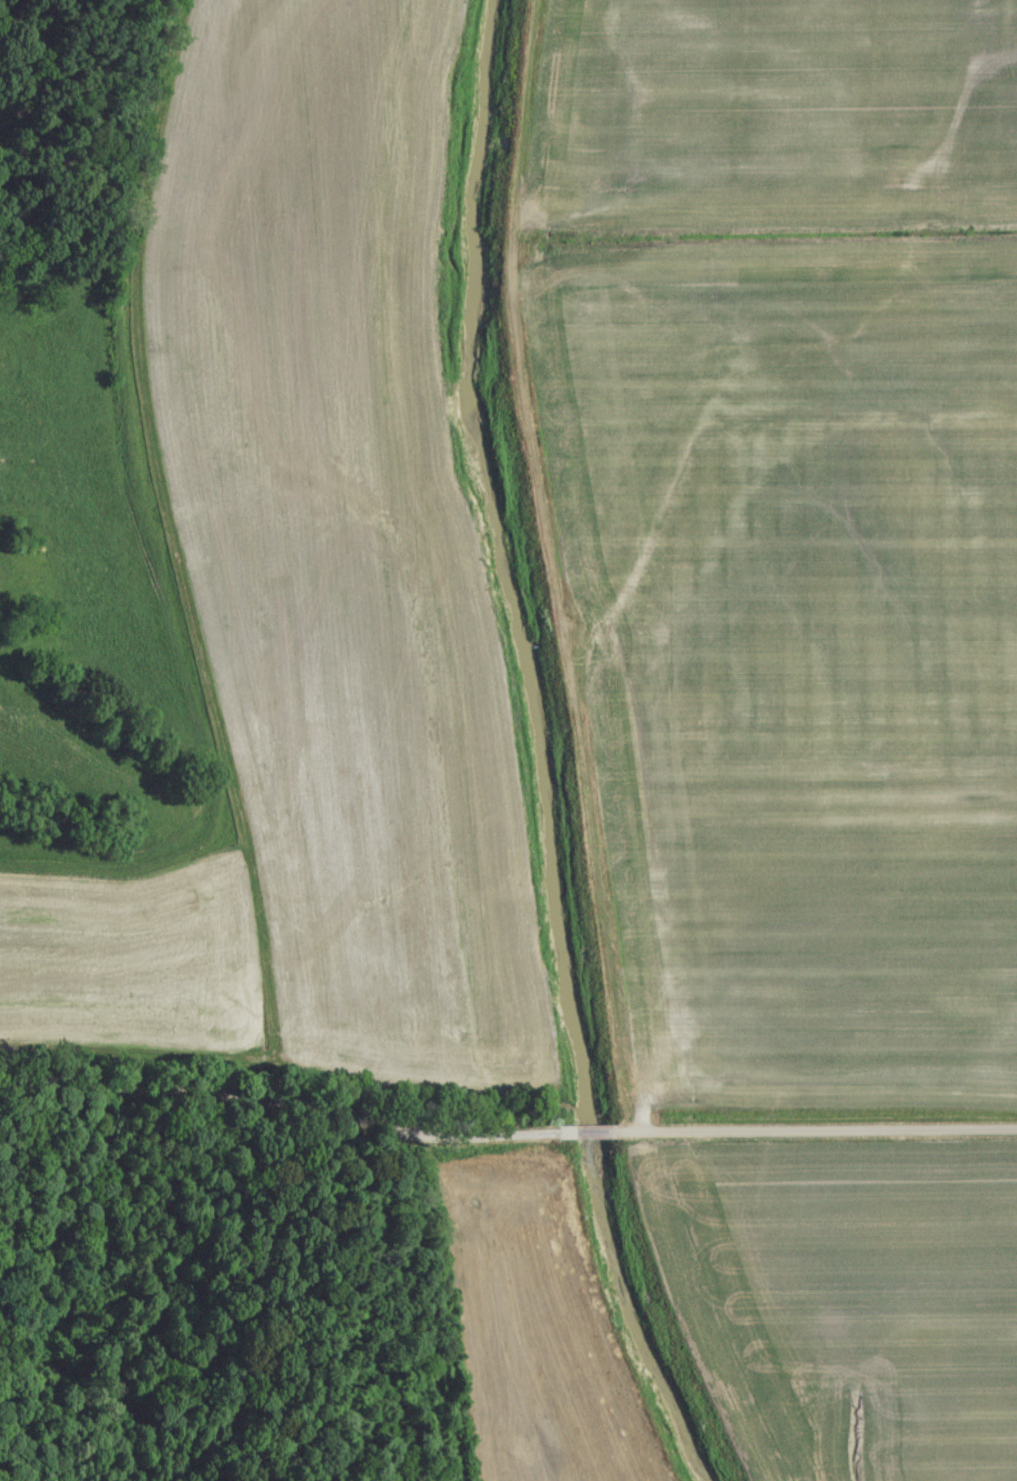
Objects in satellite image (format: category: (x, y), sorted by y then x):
road: (506, 1131)

